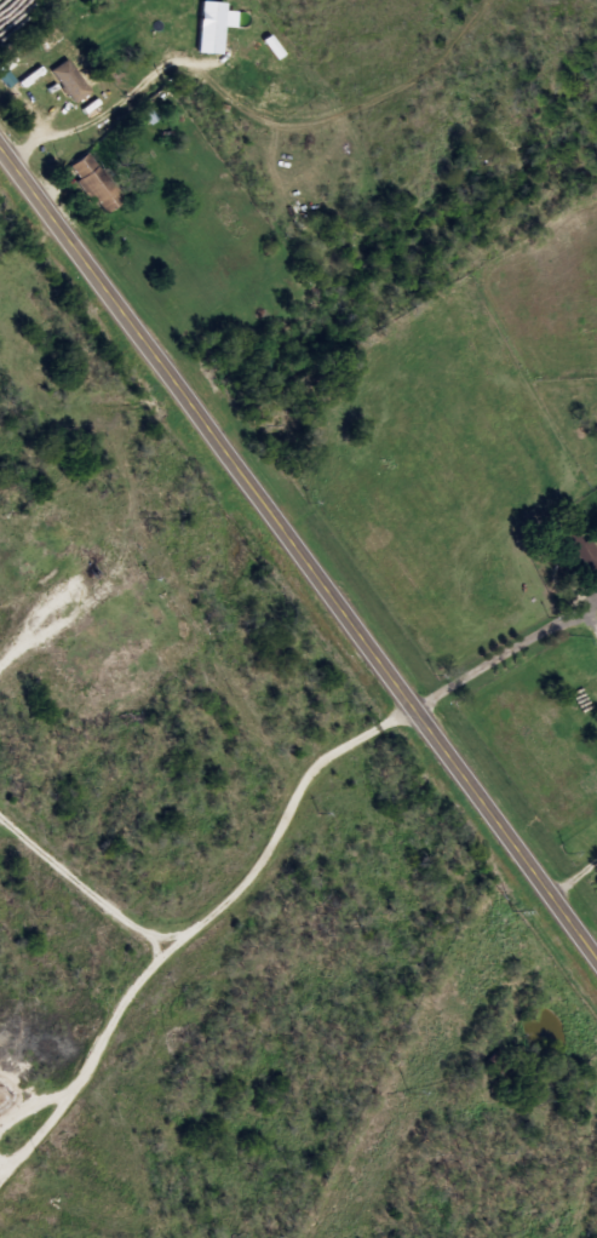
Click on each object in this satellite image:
building: (212, 27)
building: (71, 81)
building: (97, 183)
road: (298, 543)
building: (584, 557)

